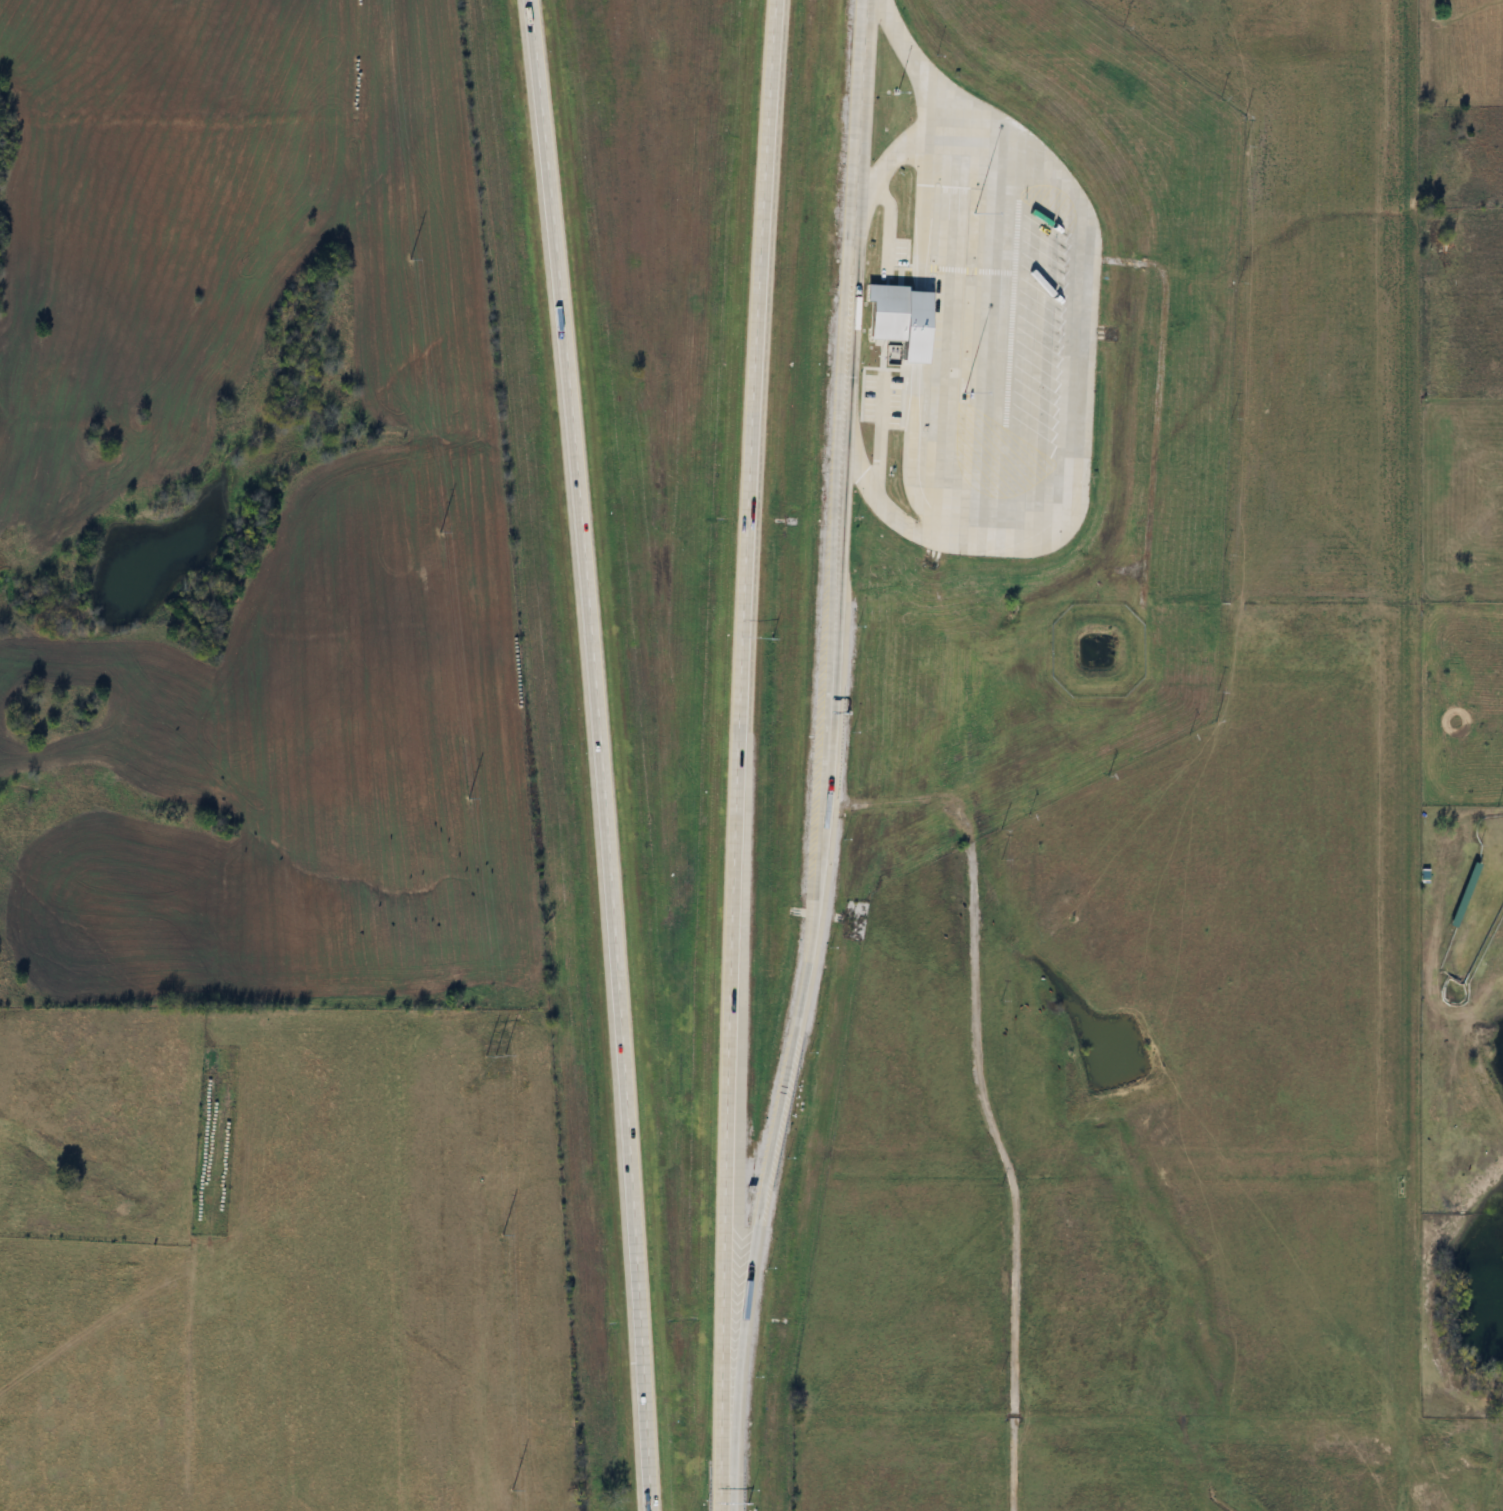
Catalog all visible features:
road: (907, 65)
road: (845, 100)
road: (837, 245)
road: (833, 313)
building: (886, 324)
road: (939, 336)
parking lot: (999, 341)
road: (991, 344)
road: (1068, 361)
road: (822, 555)
road: (727, 744)
road: (590, 754)
road: (788, 1002)
road: (728, 1358)
road: (710, 1500)

